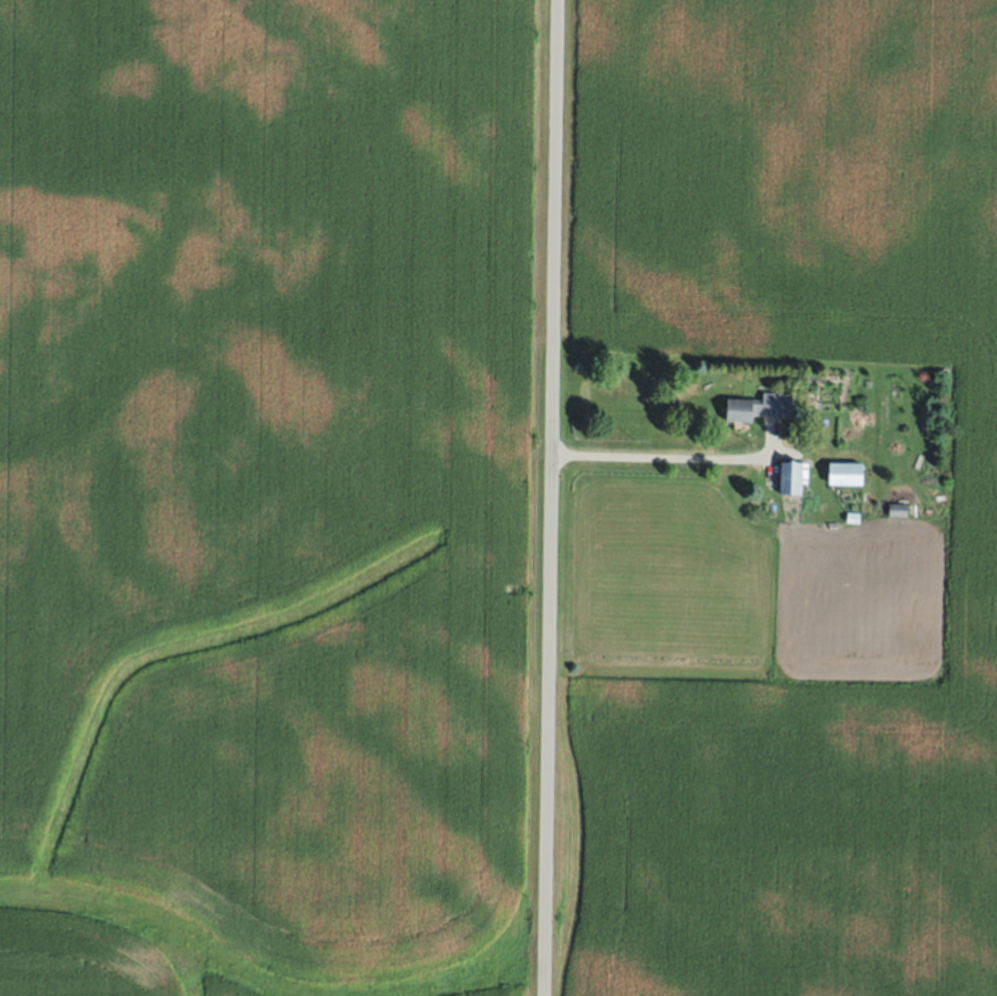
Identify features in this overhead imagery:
building: (758, 407)
road: (669, 459)
building: (845, 473)
building: (789, 478)
road: (553, 498)
building: (898, 510)
building: (852, 516)

